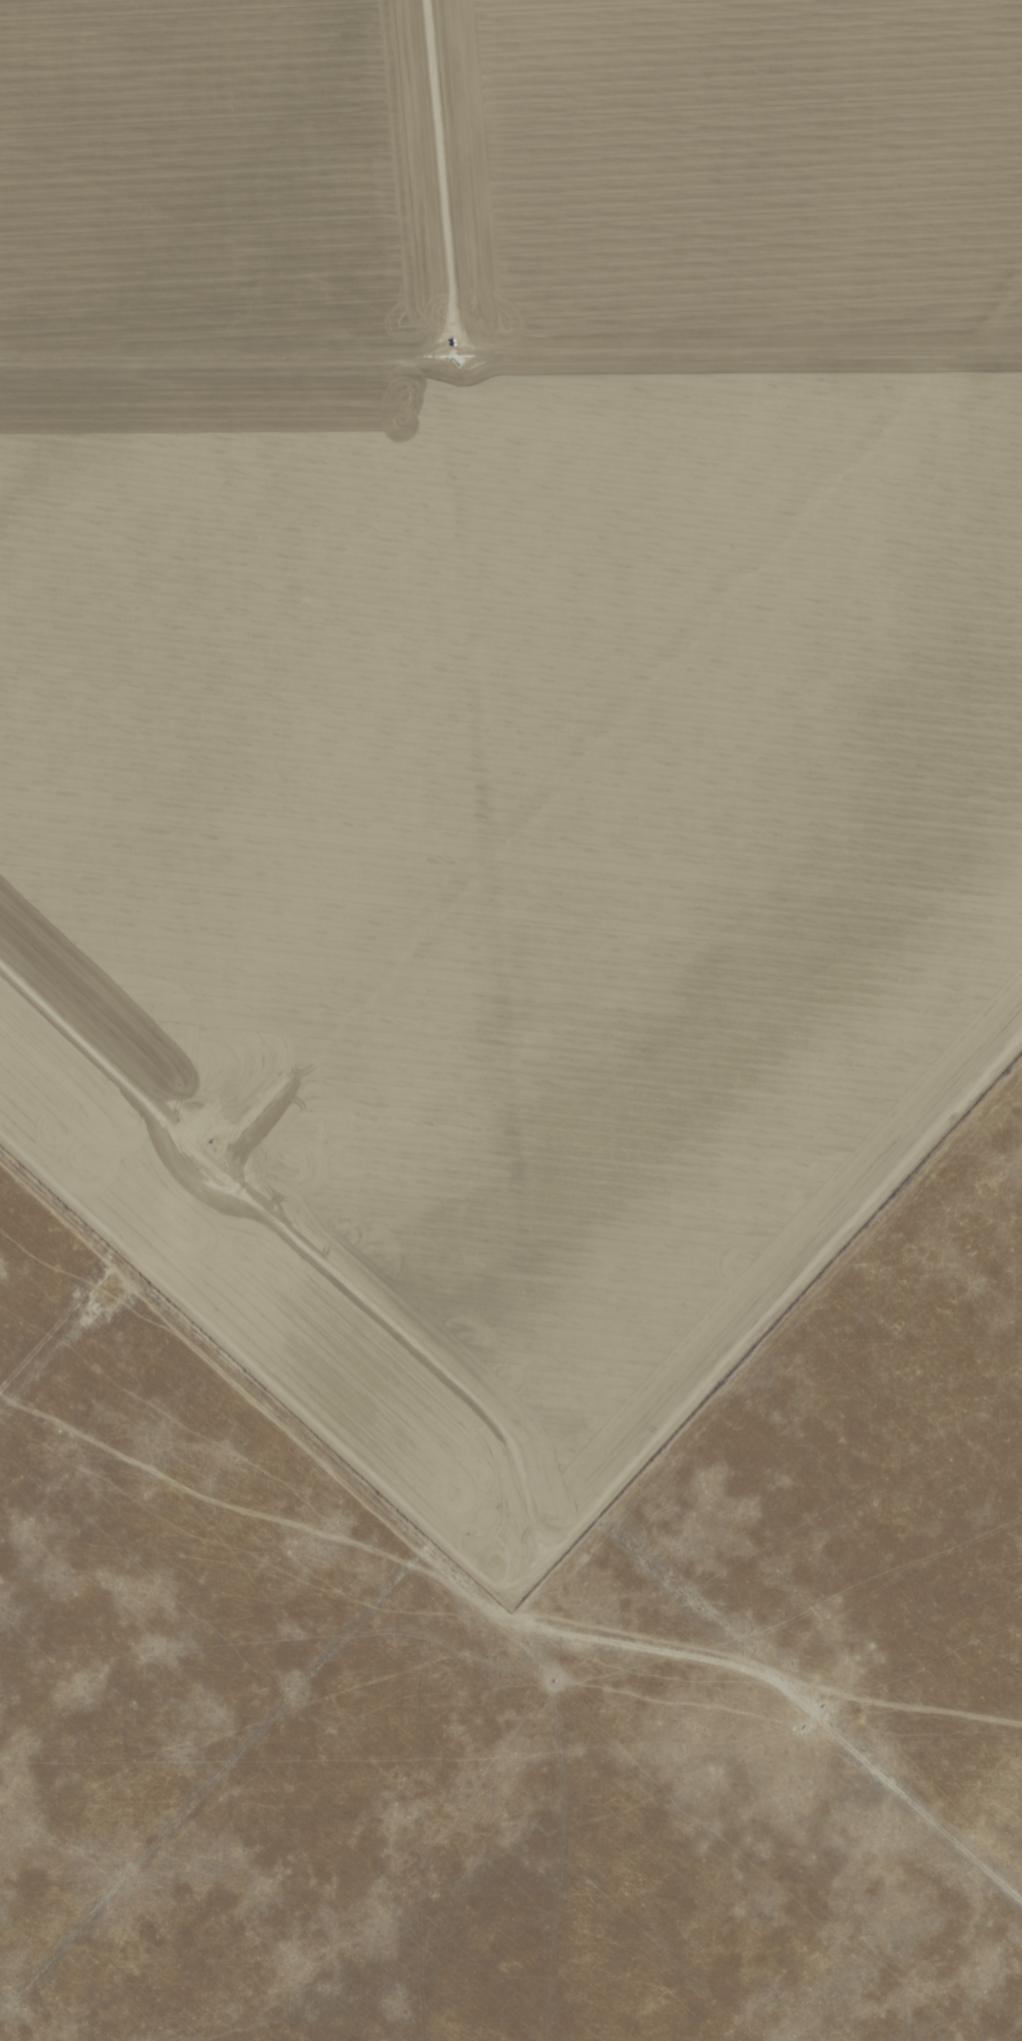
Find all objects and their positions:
crop: (505, 569)

